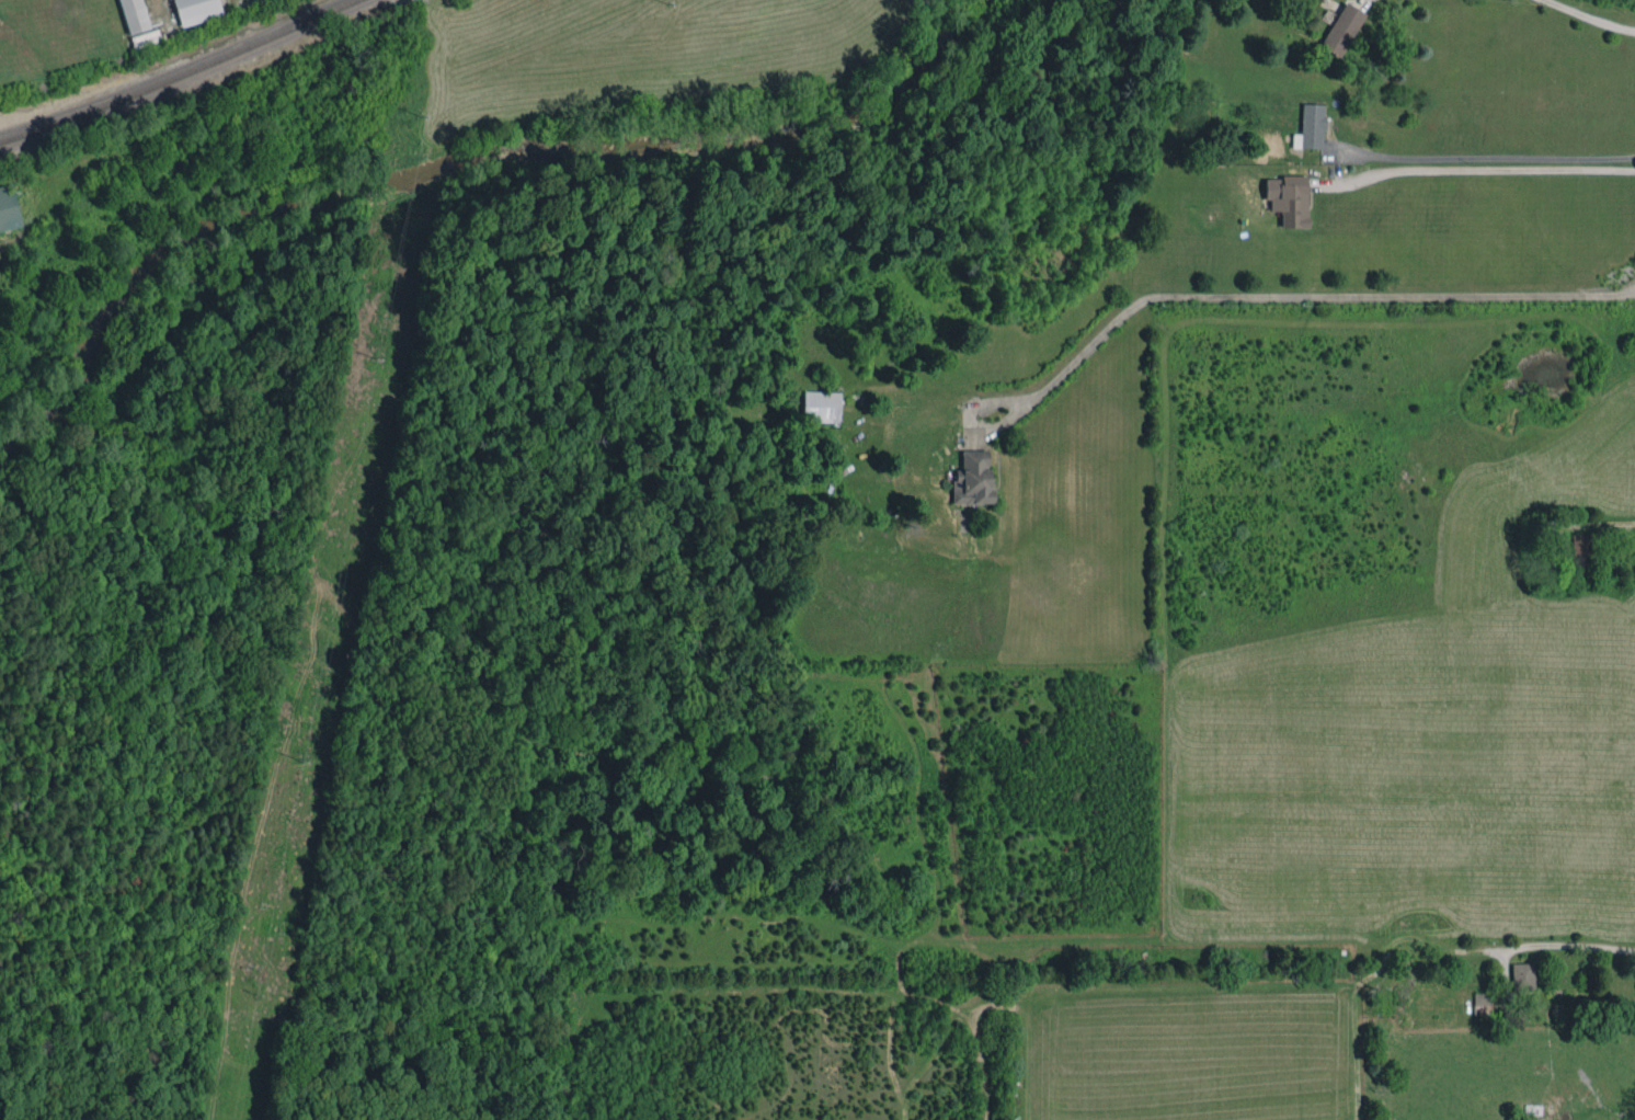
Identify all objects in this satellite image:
building: (196, 10)
building: (134, 15)
road: (1592, 18)
building: (1341, 28)
railway: (182, 78)
building: (1310, 126)
road: (1487, 156)
road: (1482, 167)
building: (1288, 198)
building: (9, 209)
road: (1310, 297)
building: (821, 405)
road: (973, 420)
building: (972, 478)
building: (1582, 549)
road: (1567, 944)
building: (1522, 975)
building: (1482, 1003)

